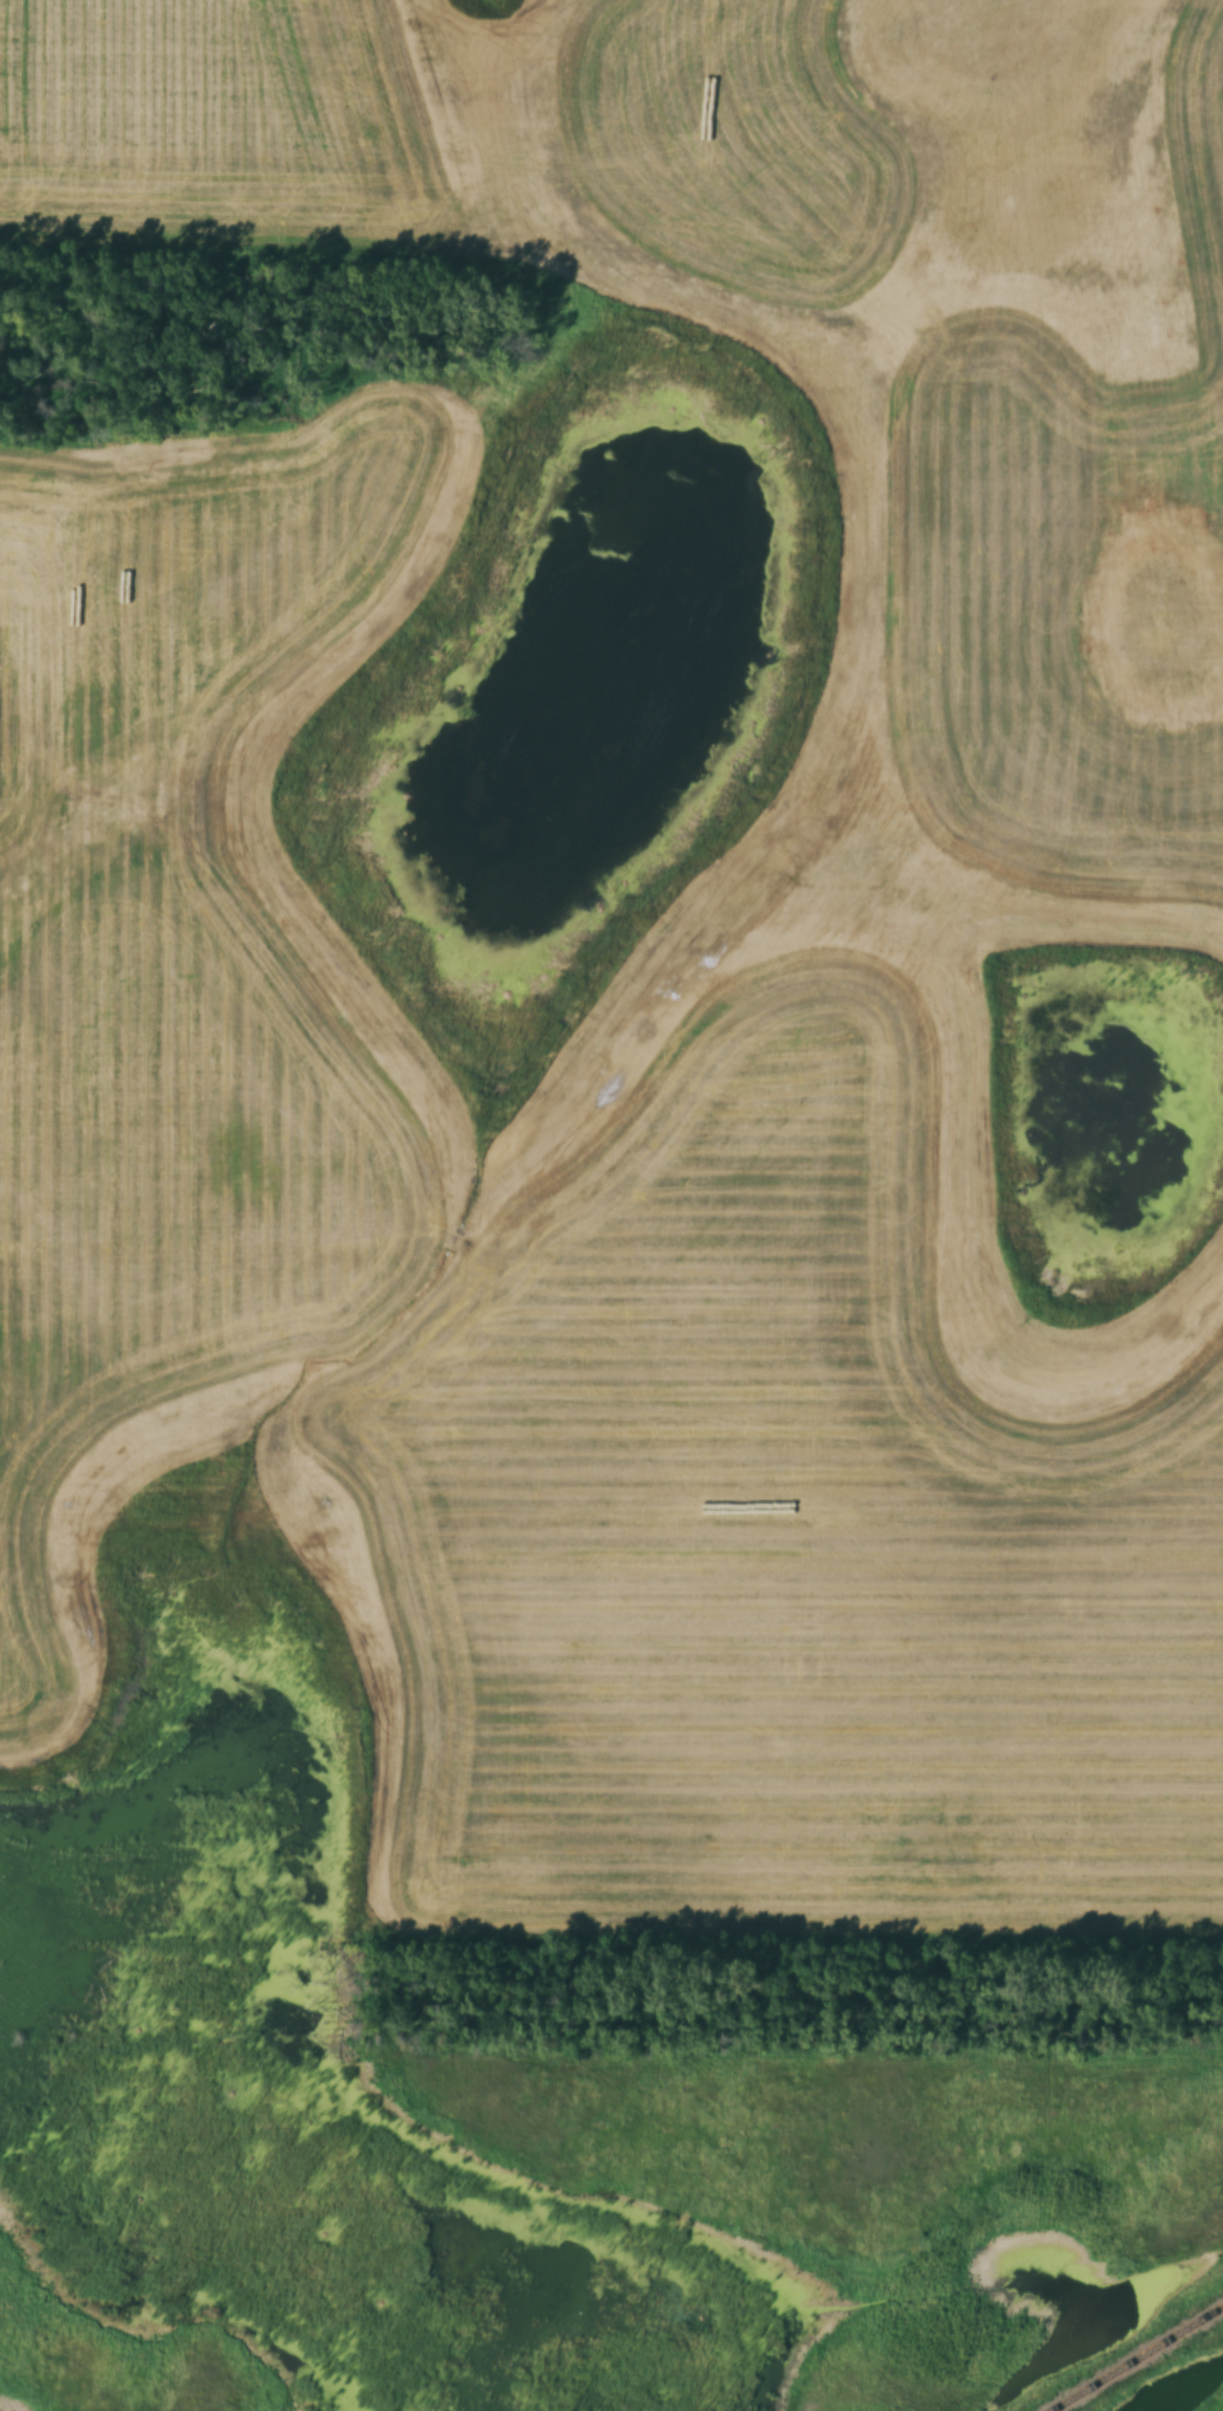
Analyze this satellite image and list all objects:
railway: (1139, 2359)

